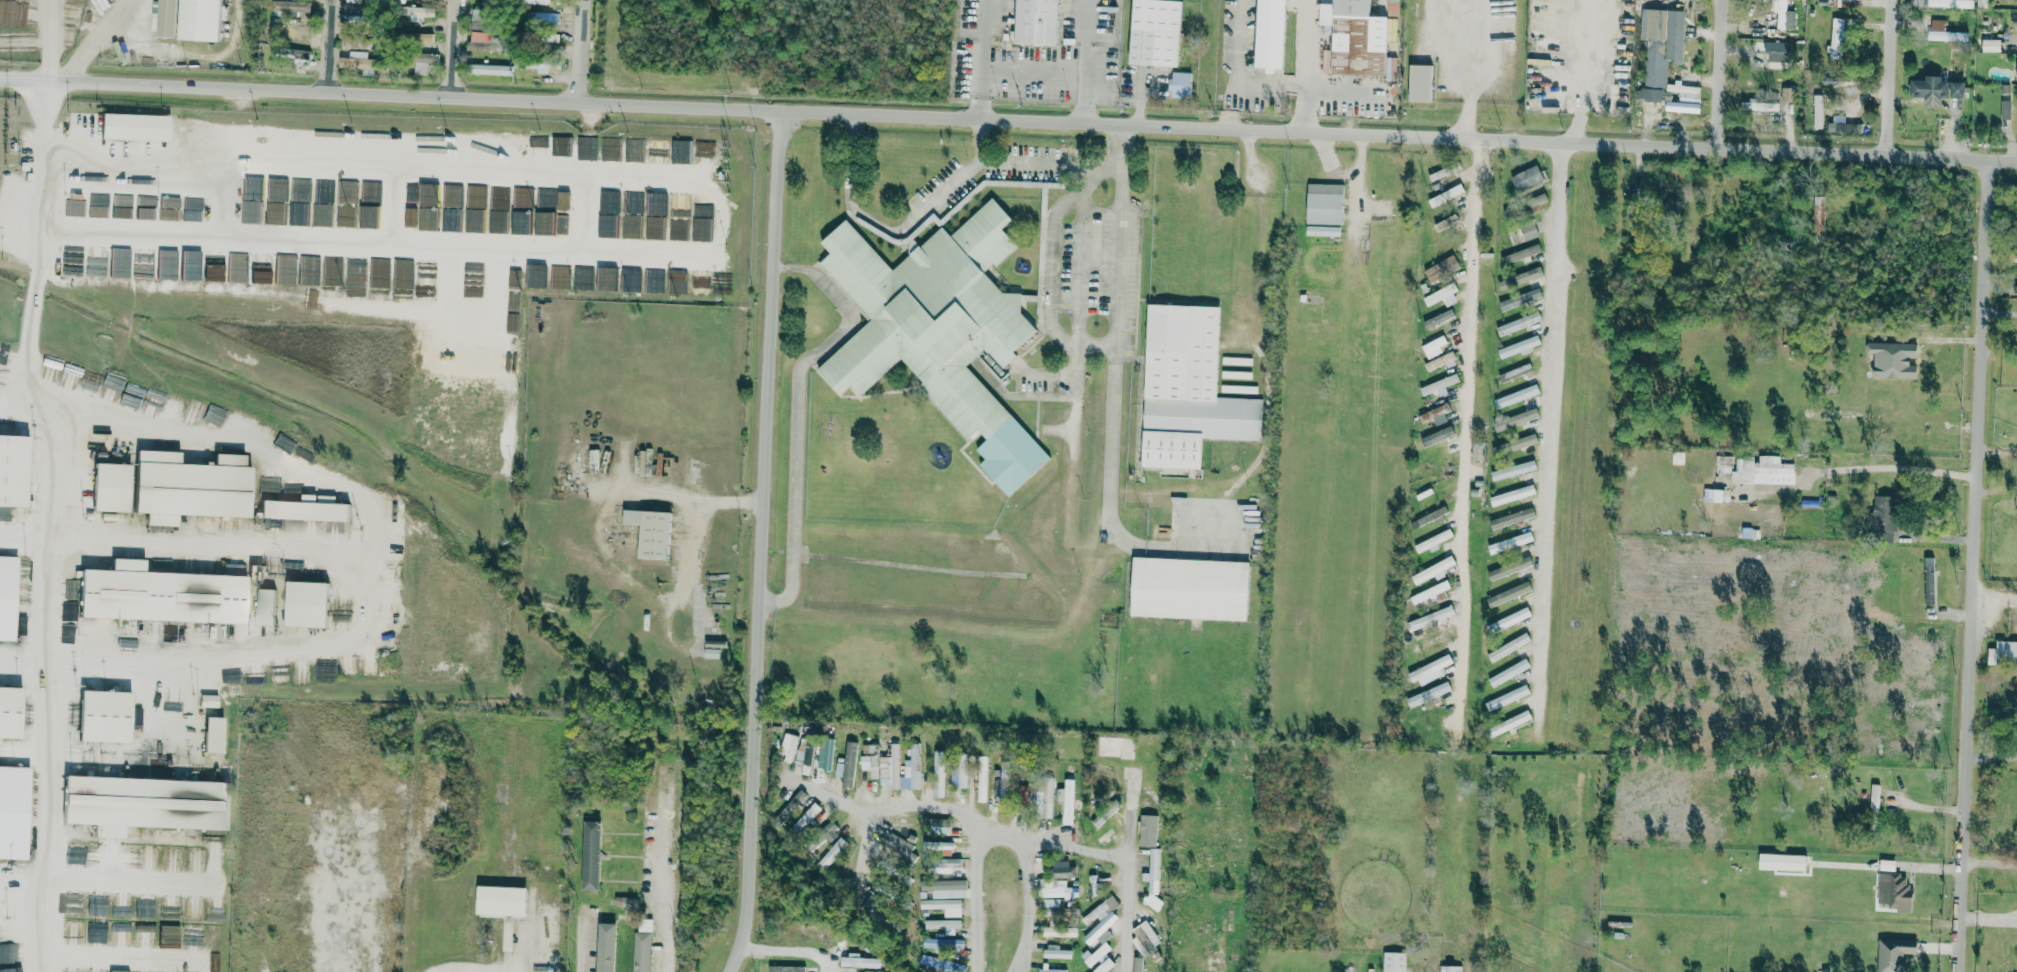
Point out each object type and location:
building: (360, 1)
building: (535, 1)
road: (134, 3)
building: (1951, 4)
building: (290, 6)
building: (1353, 8)
building: (416, 13)
building: (16, 14)
building: (69, 14)
building: (477, 14)
building: (167, 17)
building: (541, 18)
building: (201, 19)
building: (1036, 22)
building: (477, 26)
building: (288, 30)
building: (1156, 32)
building: (1944, 32)
building: (1271, 33)
building: (480, 37)
building: (548, 38)
building: (1836, 39)
road: (46, 40)
building: (354, 42)
building: (478, 46)
building: (1991, 46)
road: (93, 47)
road: (334, 47)
road: (459, 49)
road: (580, 51)
building: (1778, 54)
road: (1467, 55)
building: (296, 56)
road: (980, 60)
road: (1086, 61)
building: (1665, 61)
building: (424, 62)
building: (353, 63)
building: (538, 65)
road: (1240, 65)
road: (1307, 66)
building: (491, 70)
road: (1725, 74)
road: (1894, 77)
building: (1421, 82)
building: (1181, 85)
building: (1936, 91)
building: (1788, 95)
road: (1365, 98)
road: (1508, 100)
building: (1751, 105)
building: (2005, 110)
building: (1818, 112)
road: (1008, 121)
building: (134, 126)
building: (537, 145)
building: (609, 148)
building: (633, 149)
road: (1123, 149)
building: (656, 150)
building: (679, 151)
building: (1437, 175)
building: (1526, 179)
building: (276, 188)
building: (449, 188)
building: (299, 189)
building: (346, 191)
road: (1822, 192)
road: (1363, 193)
building: (1446, 195)
road: (1122, 196)
building: (123, 200)
building: (1537, 200)
building: (321, 201)
building: (608, 201)
building: (632, 201)
building: (427, 207)
building: (74, 208)
building: (497, 209)
building: (1324, 210)
building: (97, 211)
building: (250, 211)
building: (120, 212)
building: (274, 213)
building: (1818, 214)
building: (297, 218)
building: (473, 220)
building: (451, 223)
building: (653, 227)
building: (677, 228)
building: (630, 231)
building: (1528, 231)
road: (905, 235)
building: (1520, 253)
building: (2015, 257)
building: (73, 260)
building: (144, 263)
building: (167, 264)
building: (190, 264)
building: (238, 266)
building: (95, 267)
building: (284, 268)
building: (1441, 268)
building: (307, 269)
building: (332, 270)
building: (213, 271)
building: (354, 271)
building: (378, 272)
building: (122, 273)
road: (1048, 273)
building: (425, 274)
building: (260, 276)
building: (559, 277)
building: (582, 277)
building: (1519, 278)
building: (652, 280)
building: (699, 282)
building: (672, 284)
building: (1442, 296)
building: (1520, 299)
road: (2001, 312)
building: (1438, 318)
building: (1518, 323)
building: (939, 329)
building: (425, 330)
building: (468, 334)
road: (1955, 343)
building: (1434, 346)
building: (1519, 347)
building: (424, 354)
building: (466, 356)
building: (1893, 359)
building: (1237, 361)
building: (1440, 361)
building: (51, 368)
building: (1515, 372)
building: (1236, 374)
building: (424, 378)
building: (111, 384)
building: (1439, 384)
building: (1188, 388)
building: (1239, 388)
building: (1516, 396)
building: (420, 400)
road: (1076, 407)
road: (796, 411)
building: (1433, 412)
road: (1112, 413)
road: (1553, 415)
building: (1439, 418)
building: (1515, 419)
building: (418, 425)
road: (1468, 429)
building: (1434, 436)
building: (1516, 443)
building: (1477, 451)
building: (446, 453)
building: (1677, 457)
building: (593, 460)
building: (1723, 464)
road: (1890, 467)
building: (13, 469)
building: (1513, 470)
building: (1763, 471)
building: (110, 486)
building: (191, 489)
building: (1512, 495)
building: (1713, 495)
building: (304, 509)
building: (4, 513)
building: (1431, 515)
building: (1511, 518)
building: (1882, 518)
road: (51, 523)
building: (408, 527)
building: (650, 532)
road: (602, 538)
building: (1432, 540)
building: (1510, 542)
road: (766, 543)
road: (210, 546)
road: (369, 547)
road: (1974, 565)
building: (1509, 568)
building: (1431, 571)
building: (1929, 580)
building: (1190, 588)
building: (1430, 591)
building: (159, 594)
building: (1508, 594)
road: (1995, 596)
building: (7, 597)
building: (305, 603)
building: (264, 606)
building: (1432, 617)
building: (1509, 620)
building: (1435, 640)
building: (1508, 647)
building: (2003, 653)
building: (1430, 670)
building: (1508, 672)
building: (299, 673)
building: (322, 673)
building: (1428, 694)
building: (1507, 698)
building: (207, 700)
building: (10, 712)
building: (105, 716)
building: (135, 717)
building: (1509, 723)
building: (788, 746)
building: (1115, 747)
building: (824, 753)
building: (892, 758)
building: (804, 759)
building: (870, 763)
building: (846, 764)
building: (958, 773)
building: (938, 774)
building: (982, 778)
building: (1004, 782)
road: (972, 793)
building: (1027, 793)
building: (1045, 795)
building: (1874, 797)
road: (833, 798)
building: (1066, 800)
building: (143, 804)
building: (792, 804)
road: (907, 806)
building: (13, 812)
building: (806, 818)
building: (904, 822)
building: (938, 825)
building: (1148, 830)
building: (211, 835)
building: (934, 845)
road: (1066, 845)
building: (900, 846)
building: (832, 852)
building: (590, 855)
road: (1992, 861)
building: (1791, 862)
building: (944, 864)
road: (1130, 868)
building: (1063, 870)
building: (1153, 876)
road: (664, 879)
building: (1091, 883)
building: (945, 888)
building: (1054, 889)
building: (1894, 890)
road: (972, 893)
road: (383, 894)
road: (1028, 900)
building: (500, 902)
building: (628, 903)
building: (73, 904)
building: (943, 906)
building: (97, 907)
building: (1051, 907)
building: (194, 908)
building: (145, 909)
building: (169, 909)
building: (215, 910)
building: (881, 916)
building: (1229, 917)
building: (1102, 918)
building: (942, 924)
building: (73, 926)
building: (1059, 930)
building: (95, 931)
building: (169, 931)
building: (144, 936)
building: (192, 938)
building: (1145, 938)
road: (525, 944)
building: (943, 944)
building: (604, 947)
road: (790, 951)
building: (1238, 951)
building: (640, 952)
building: (1054, 952)
building: (1100, 952)
building: (4, 953)
building: (1894, 954)
road: (585, 957)
building: (860, 962)
building: (1394, 962)
building: (941, 965)
building: (1104, 966)
building: (1149, 968)
building: (1450, 968)
road: (461, 969)
building: (785, 969)
building: (15, 970)
building: (1053, 970)

